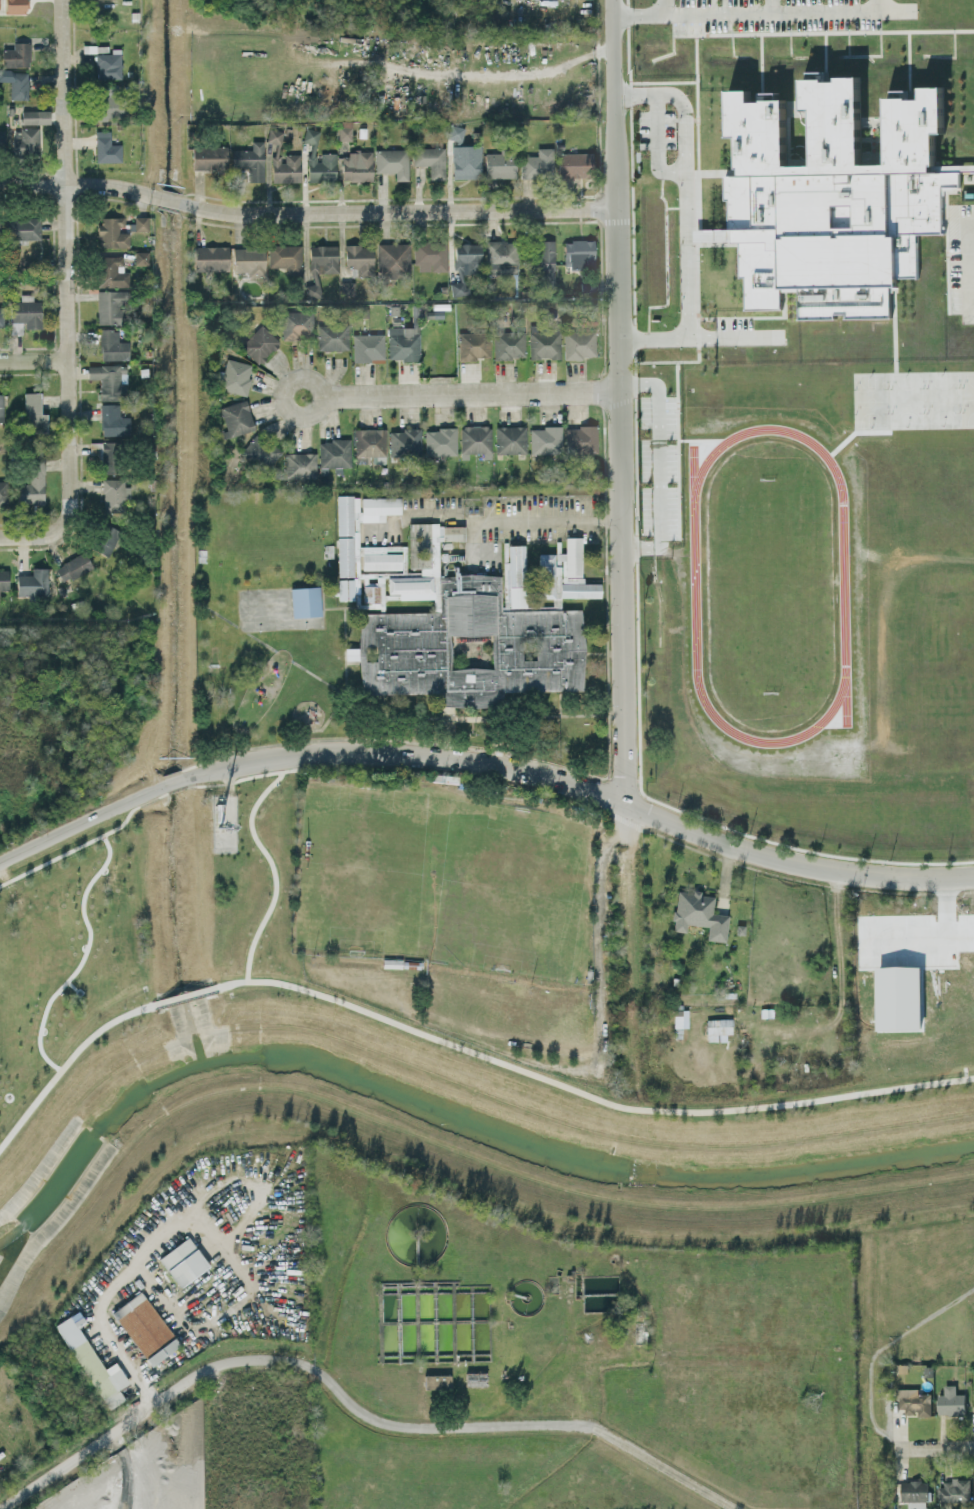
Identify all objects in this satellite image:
building: (14, 6)
road: (666, 8)
road: (778, 14)
road: (639, 17)
building: (16, 55)
building: (108, 65)
road: (473, 73)
building: (18, 85)
building: (108, 102)
building: (35, 117)
building: (0, 132)
building: (344, 133)
building: (455, 133)
building: (310, 135)
building: (274, 136)
building: (26, 141)
building: (106, 148)
building: (209, 158)
building: (250, 160)
building: (430, 161)
building: (466, 161)
building: (392, 162)
building: (537, 164)
building: (574, 164)
building: (499, 165)
building: (284, 166)
building: (356, 166)
building: (321, 167)
road: (77, 184)
building: (839, 197)
road: (167, 201)
road: (396, 210)
road: (687, 216)
building: (140, 223)
building: (24, 228)
building: (112, 232)
building: (578, 254)
building: (430, 255)
building: (501, 256)
building: (285, 257)
building: (210, 258)
building: (359, 259)
building: (392, 259)
building: (467, 259)
building: (249, 261)
building: (545, 262)
building: (320, 265)
building: (111, 272)
building: (458, 289)
road: (67, 297)
building: (109, 306)
building: (24, 314)
building: (1, 317)
building: (295, 325)
building: (332, 337)
building: (402, 343)
building: (508, 344)
building: (544, 344)
building: (578, 344)
building: (259, 345)
building: (111, 346)
building: (473, 346)
building: (368, 348)
road: (33, 360)
building: (235, 376)
building: (108, 380)
road: (315, 384)
road: (470, 394)
road: (620, 401)
building: (1, 407)
building: (34, 414)
building: (235, 418)
building: (113, 421)
building: (474, 439)
building: (510, 439)
building: (581, 439)
building: (544, 440)
building: (404, 442)
building: (440, 442)
building: (368, 444)
building: (260, 452)
building: (334, 453)
building: (109, 457)
building: (299, 465)
building: (32, 483)
building: (2, 493)
building: (112, 495)
road: (553, 520)
building: (105, 539)
building: (73, 567)
building: (3, 579)
building: (33, 583)
building: (304, 602)
building: (469, 647)
building: (350, 653)
road: (173, 782)
road: (176, 788)
road: (584, 790)
road: (585, 804)
road: (619, 818)
road: (78, 821)
road: (85, 841)
road: (271, 861)
building: (698, 914)
road: (627, 943)
road: (184, 994)
building: (898, 998)
road: (597, 1025)
building: (718, 1026)
road: (66, 1061)
road: (586, 1094)
river: (472, 1126)
building: (183, 1261)
road: (108, 1297)
road: (162, 1299)
building: (144, 1327)
road: (879, 1347)
road: (665, 1355)
wastewater plant: (514, 1357)
building: (91, 1361)
road: (564, 1365)
building: (474, 1379)
building: (436, 1381)
building: (949, 1400)
building: (913, 1401)
road: (472, 1426)
road: (107, 1437)
road: (932, 1446)
building: (973, 1488)
building: (951, 1491)
building: (913, 1493)

